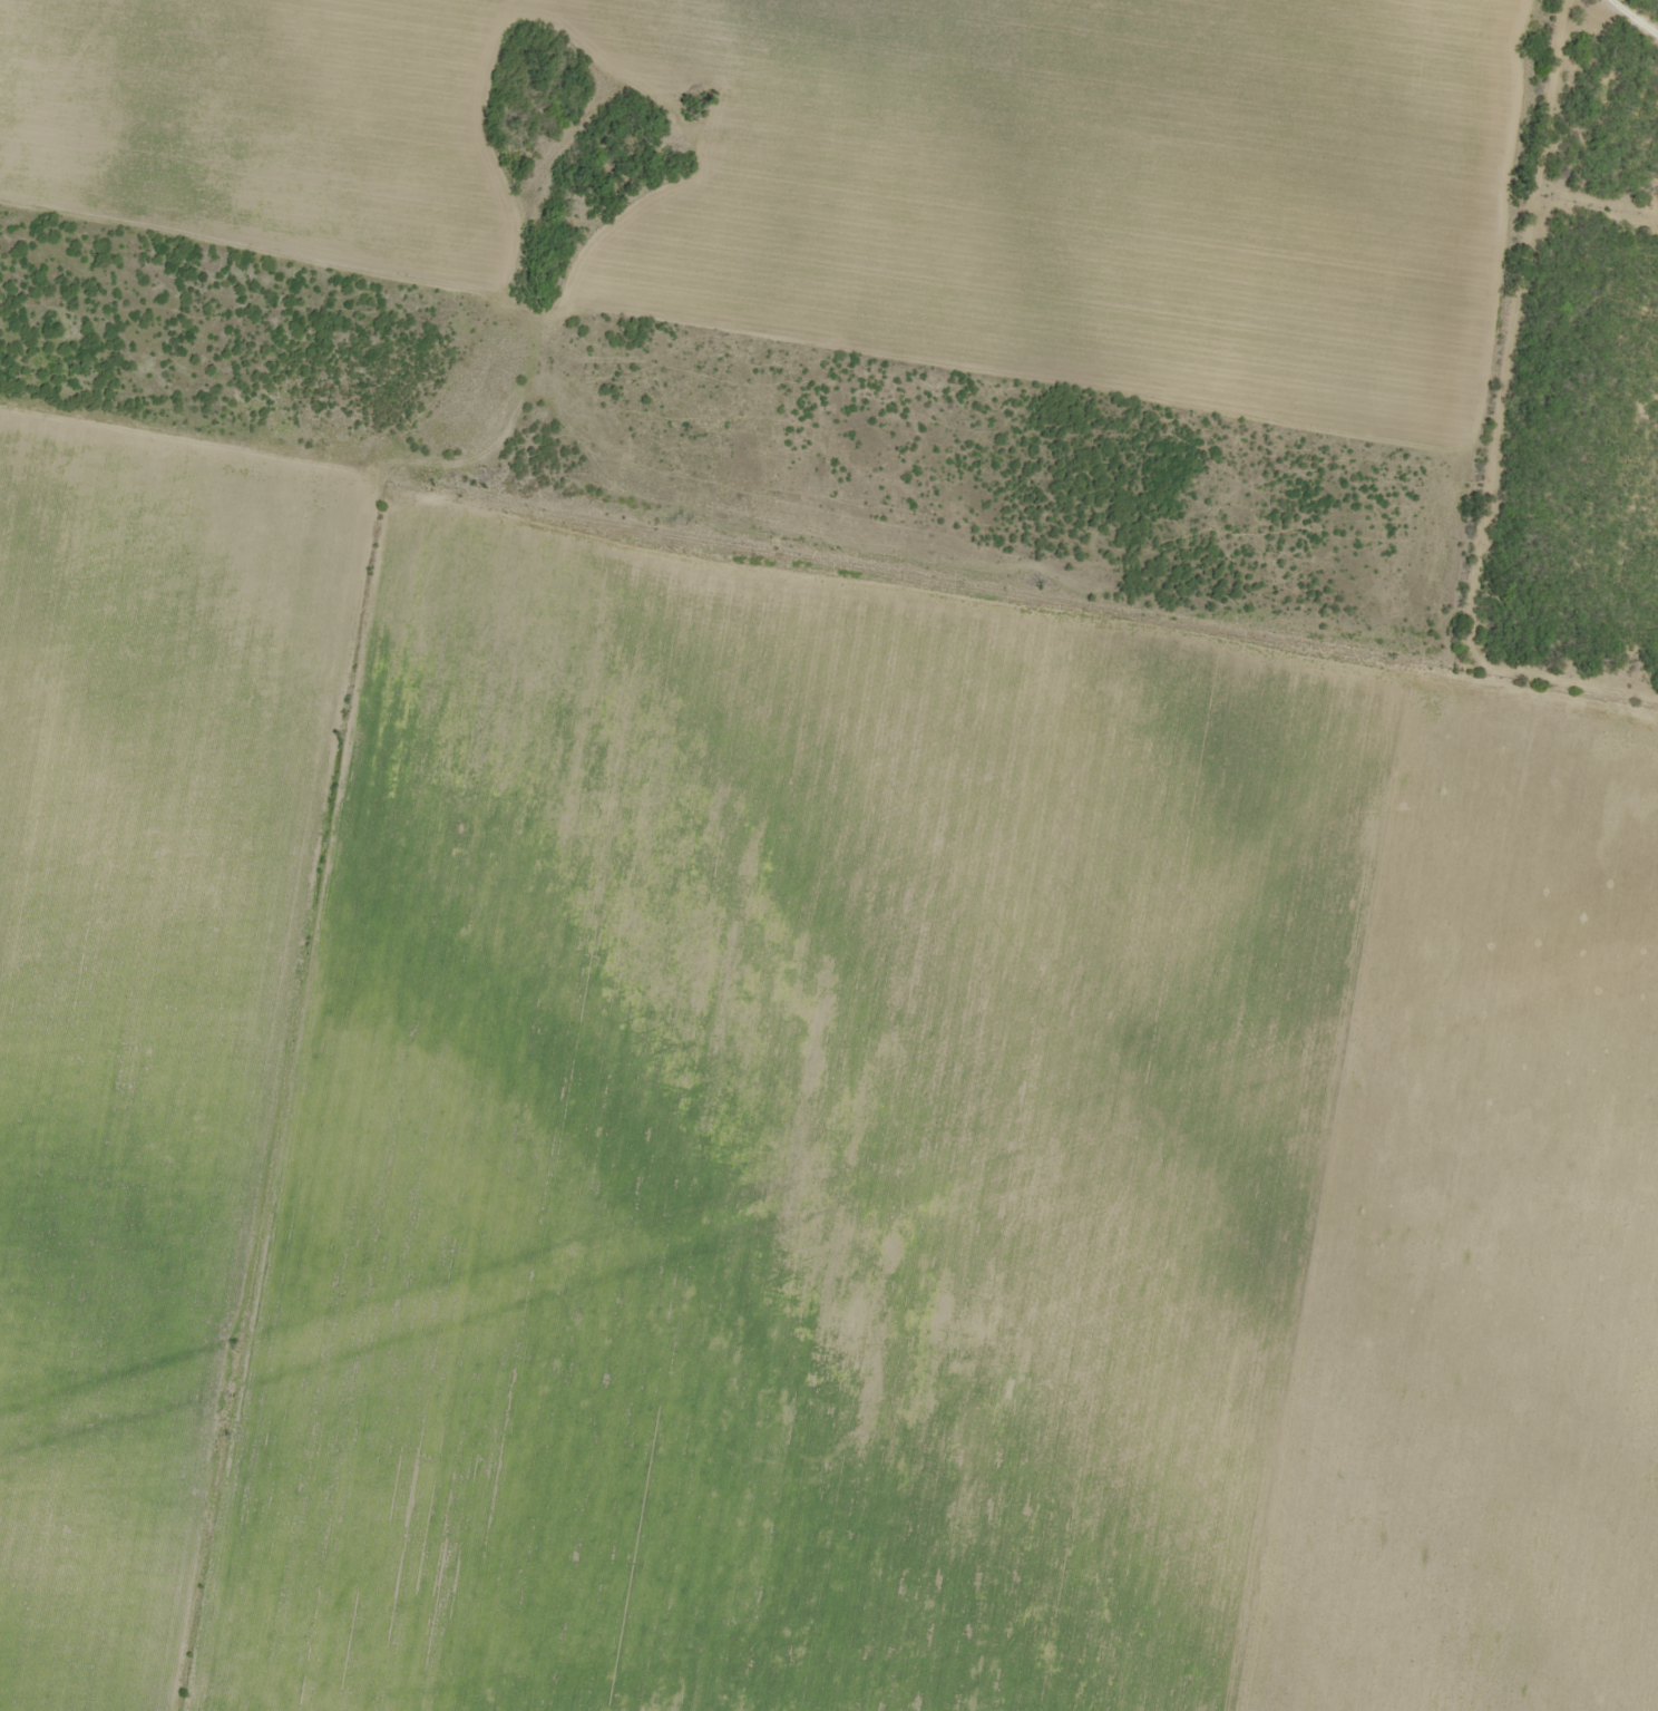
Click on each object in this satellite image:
road: (465, 450)
road: (1045, 583)
road: (1181, 857)
road: (833, 1241)

